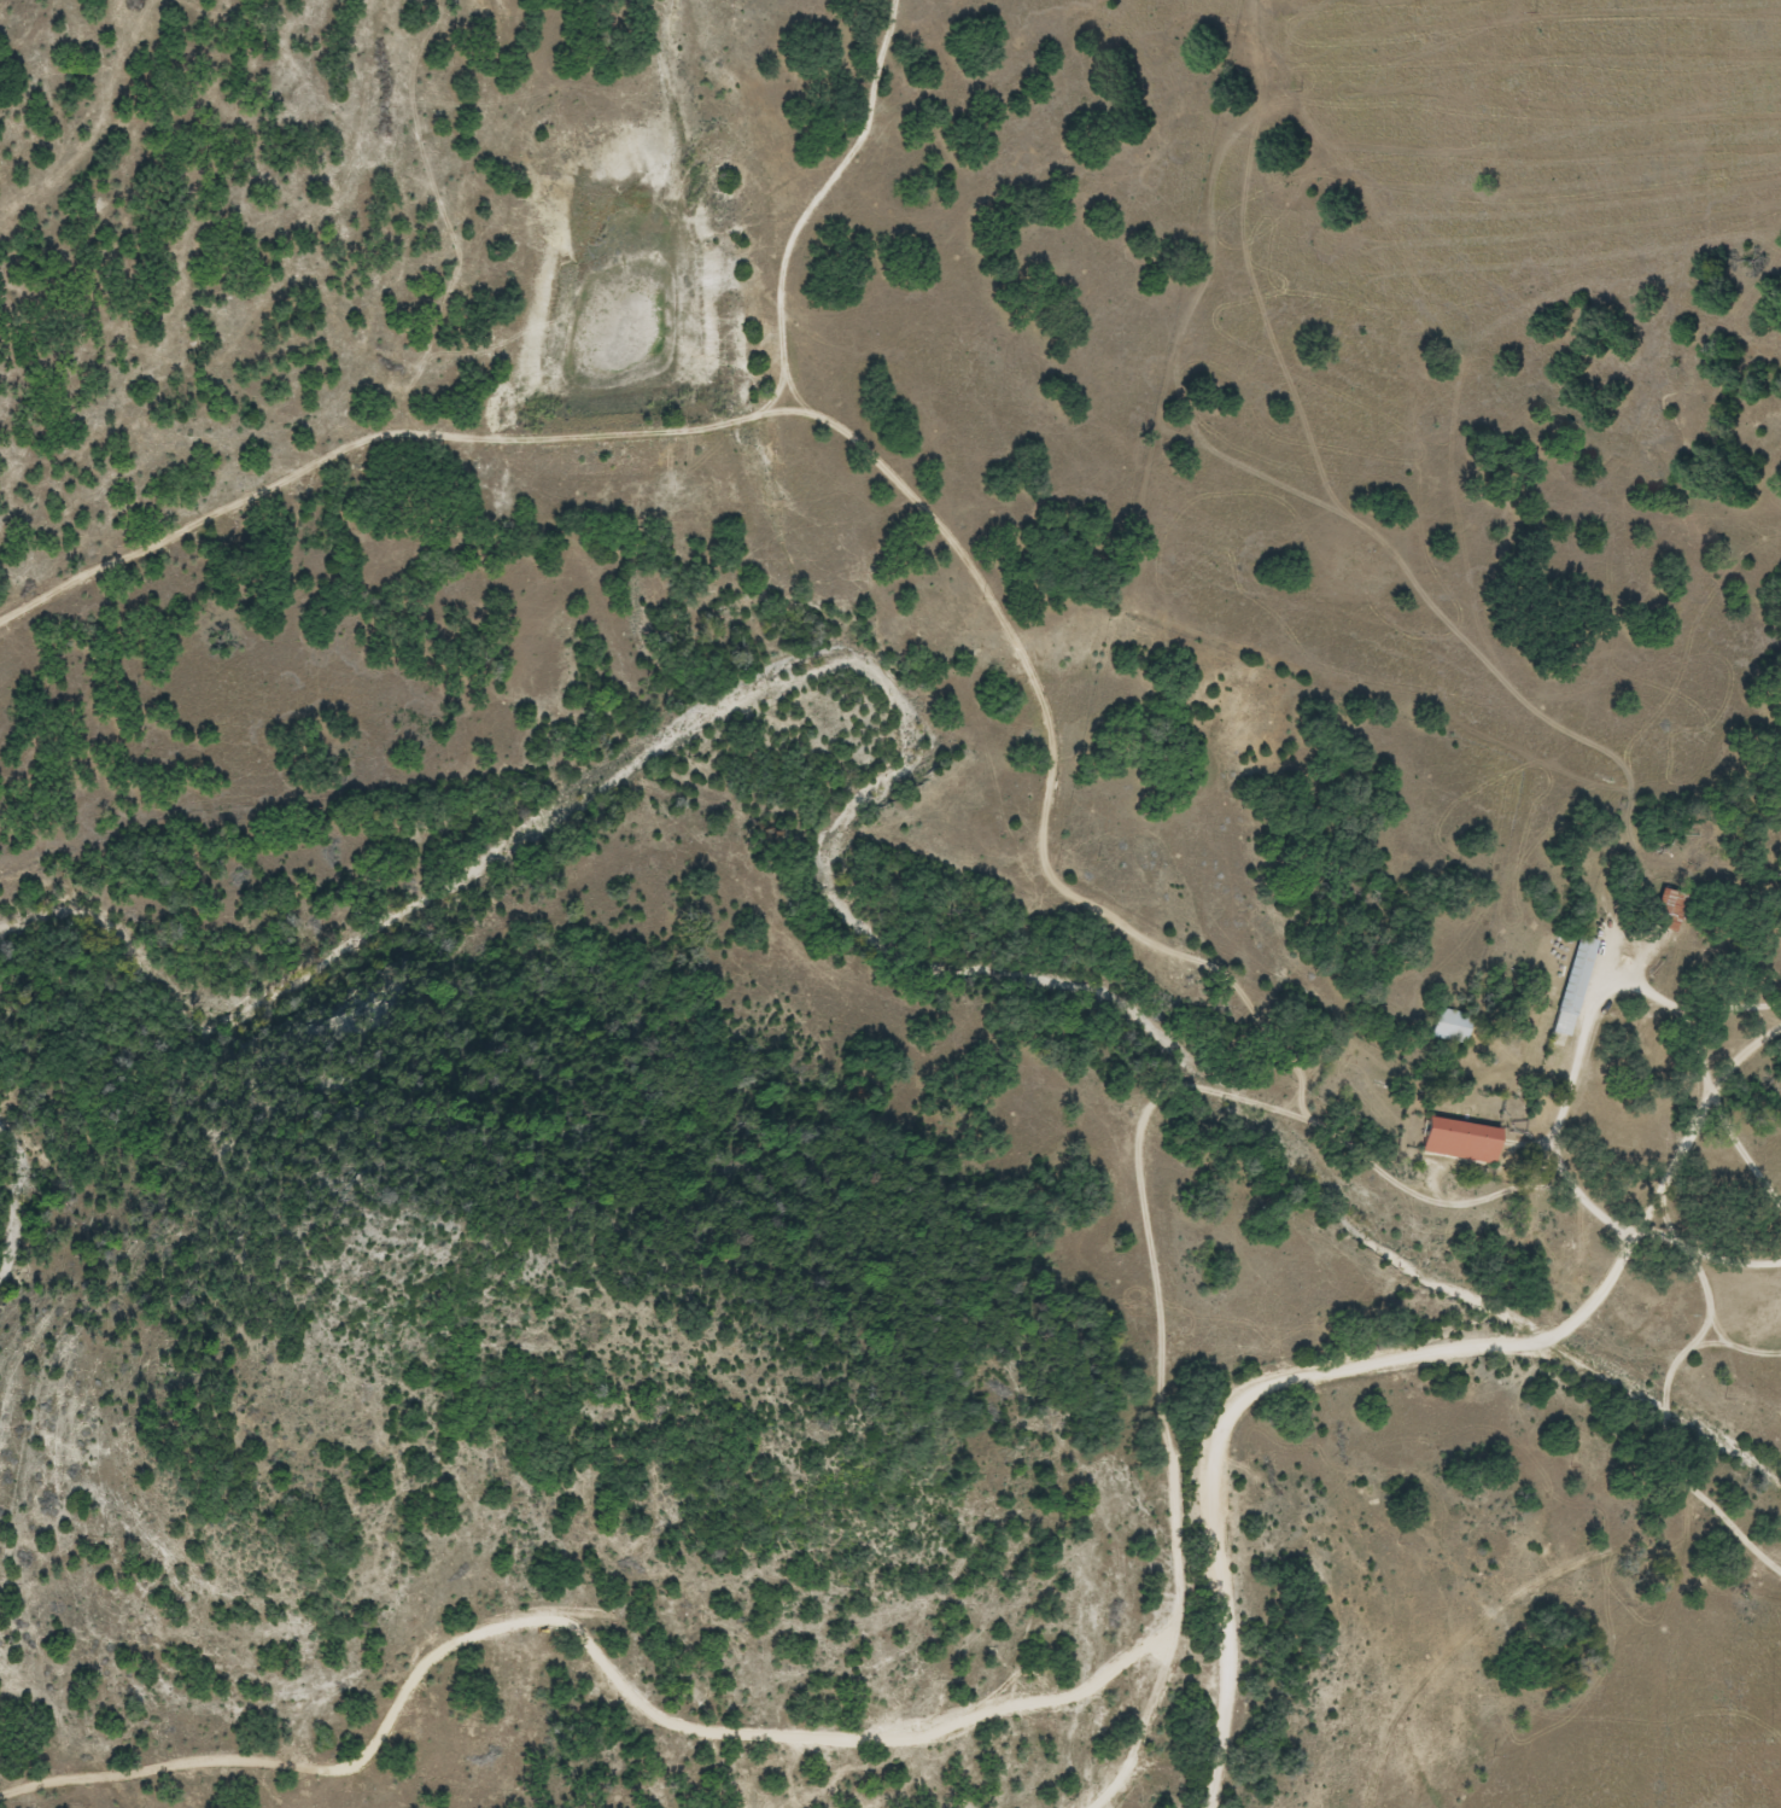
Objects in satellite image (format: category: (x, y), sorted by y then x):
road: (1035, 768)
building: (1666, 909)
building: (1572, 986)
building: (1449, 1026)
building: (1459, 1141)
road: (1148, 1202)
road: (1384, 1363)
road: (1677, 1409)
road: (1523, 1593)
road: (571, 1634)

